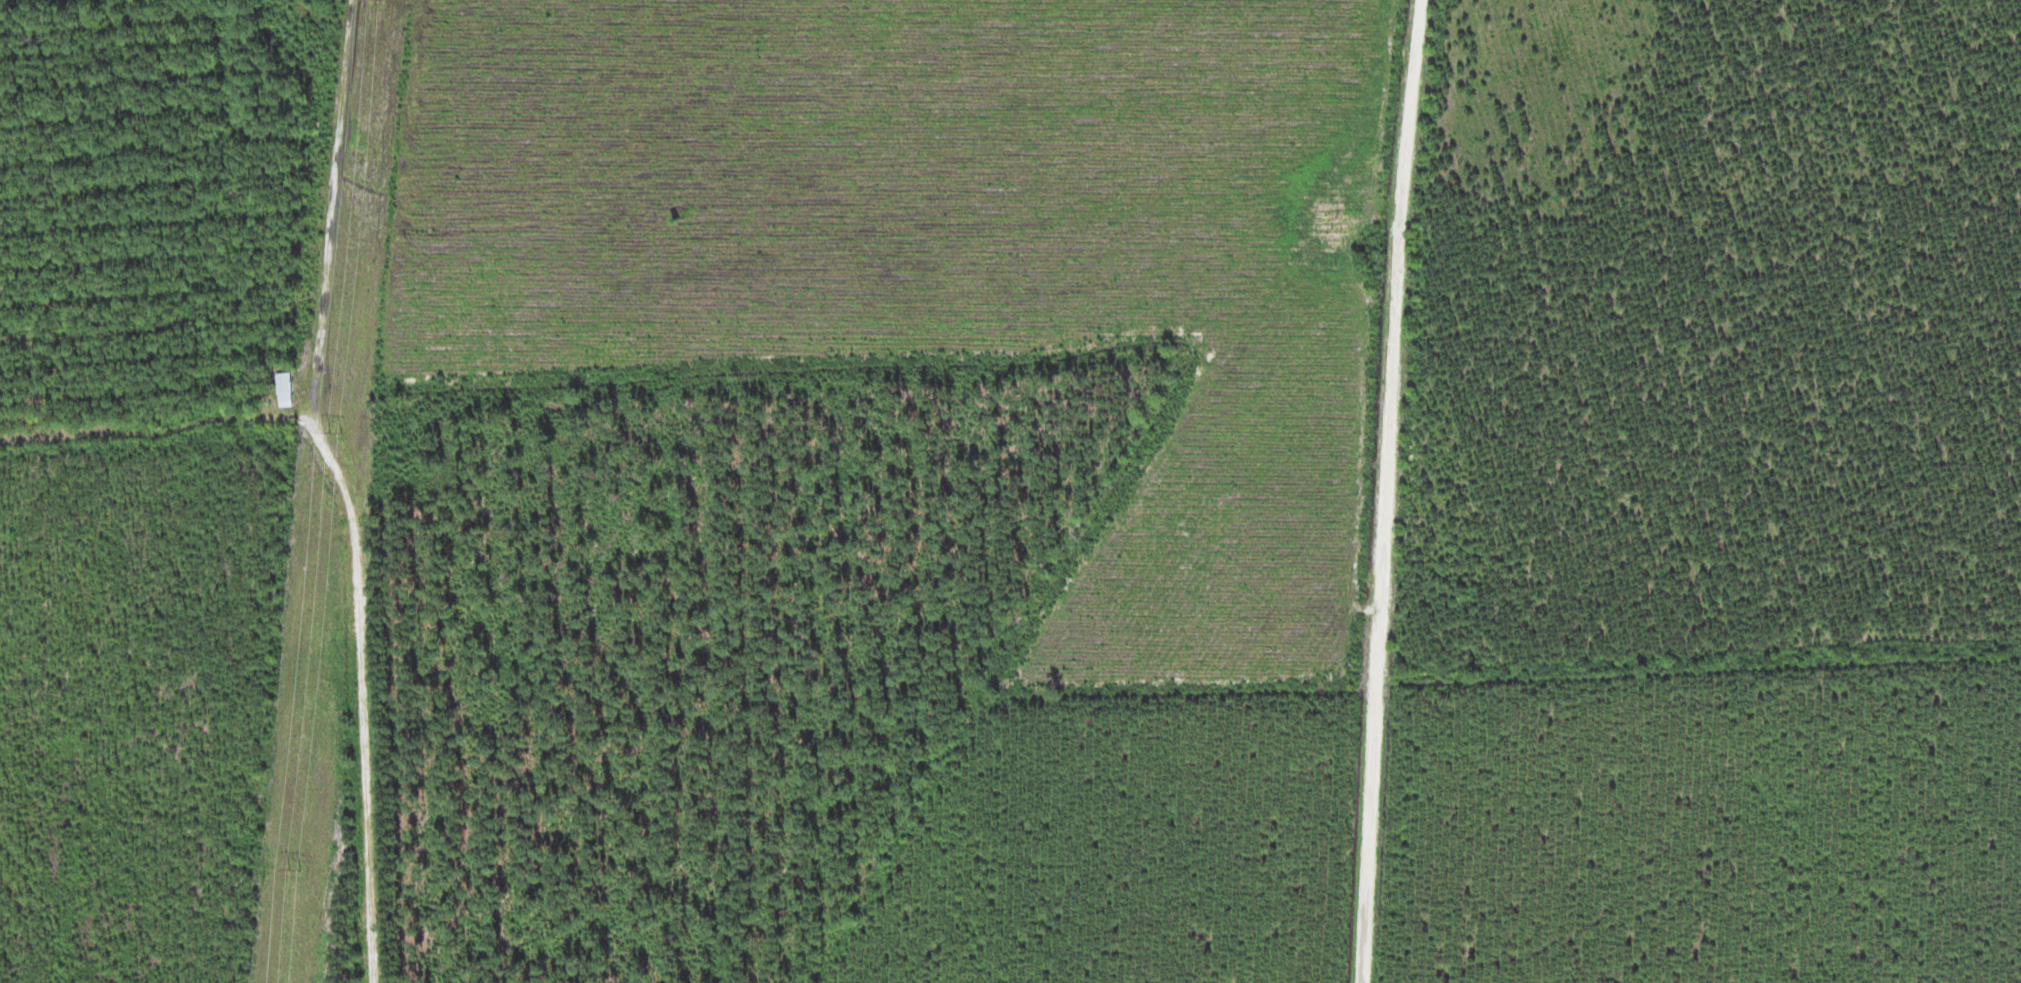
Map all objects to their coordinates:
building: (289, 389)
power tower: (340, 435)
road: (1437, 491)
road: (372, 770)
power tower: (296, 872)

